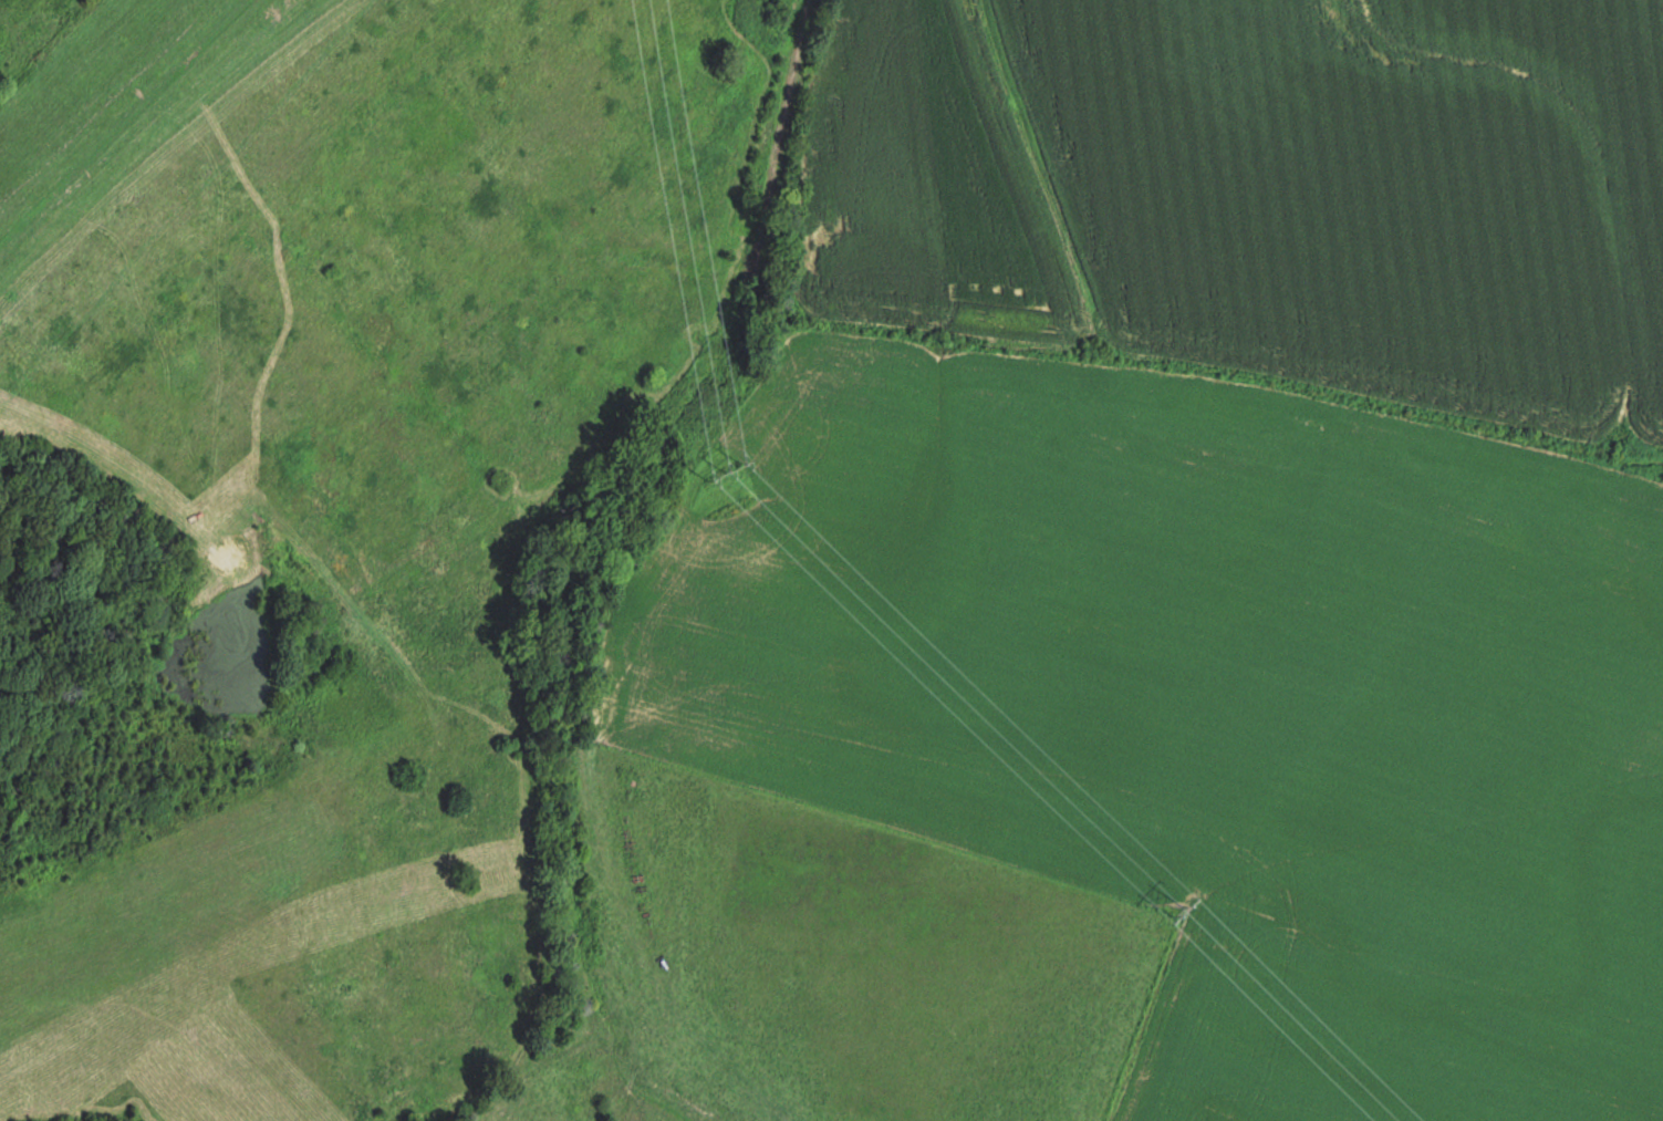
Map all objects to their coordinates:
road: (123, 113)
power tower: (719, 461)
power tower: (1176, 910)

